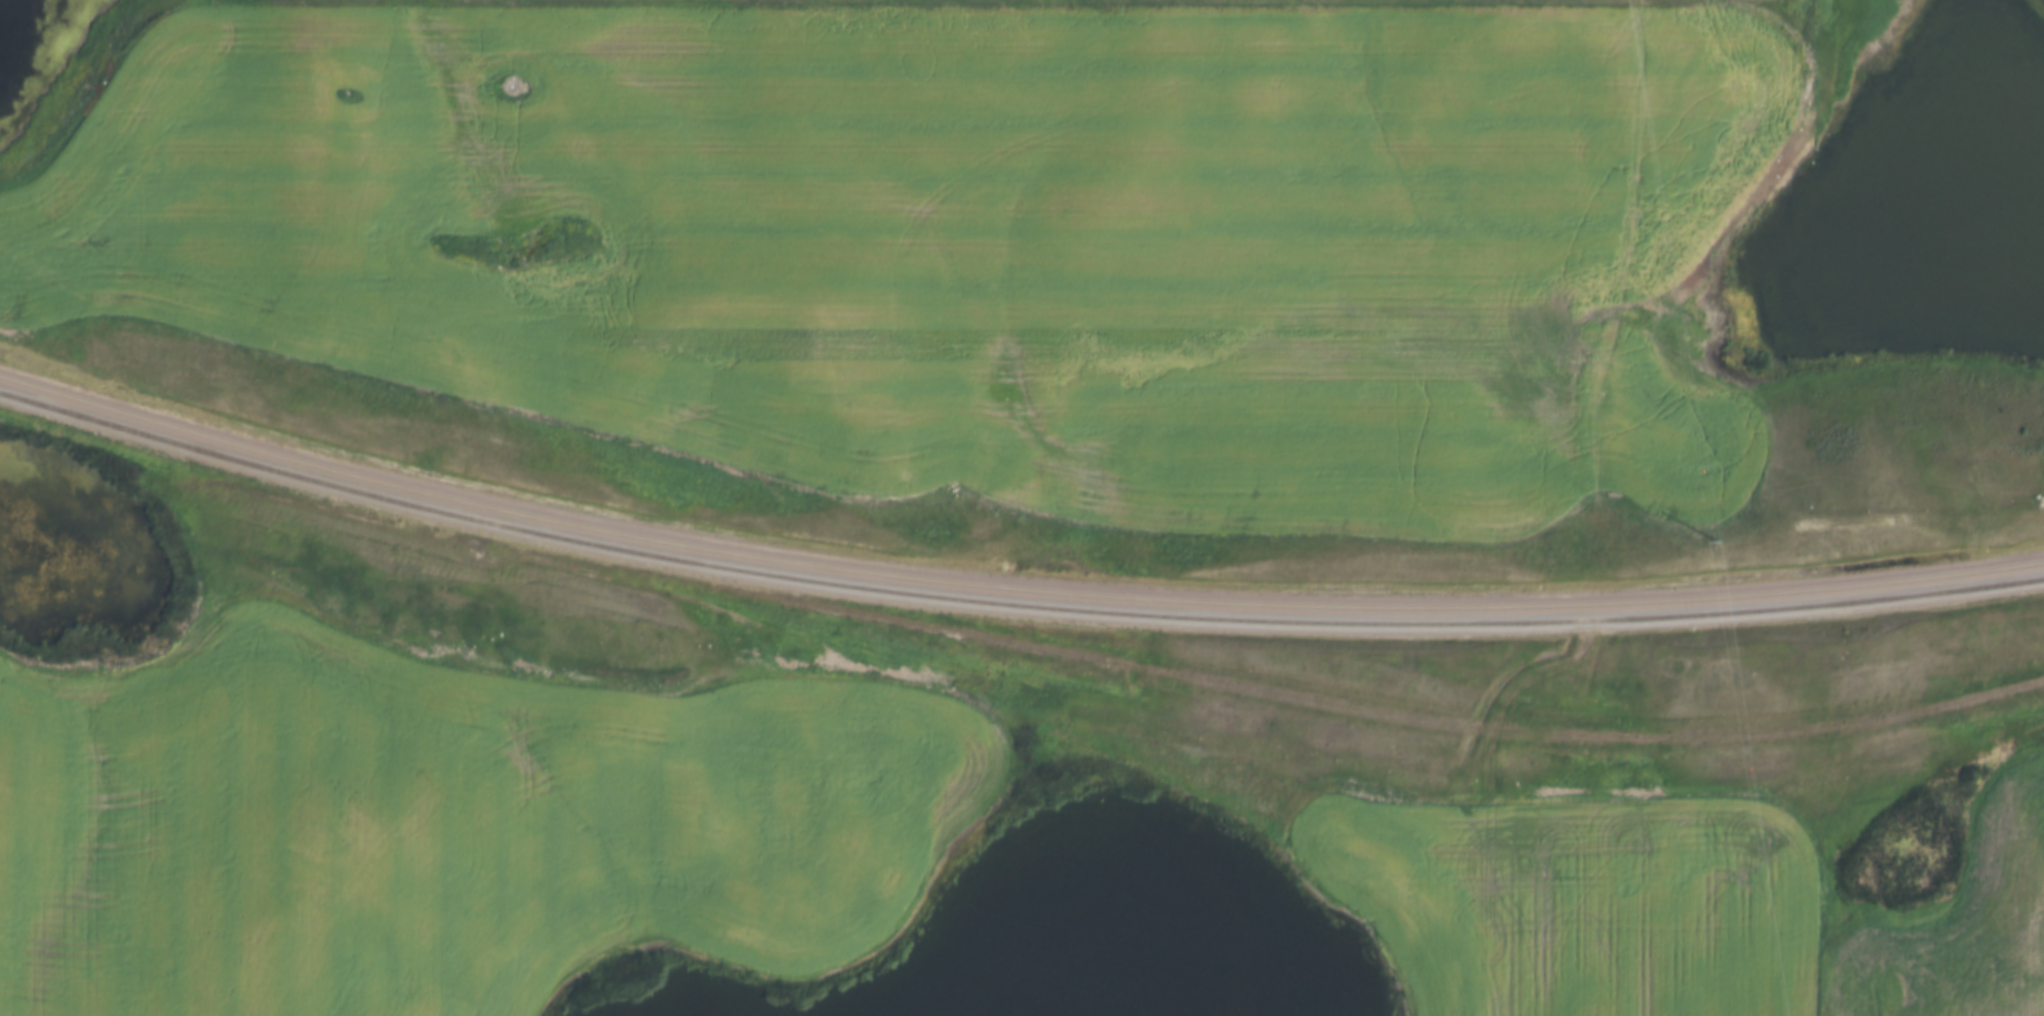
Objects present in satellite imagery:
road: (1669, 285)
railway: (1010, 591)
railway: (1011, 604)

